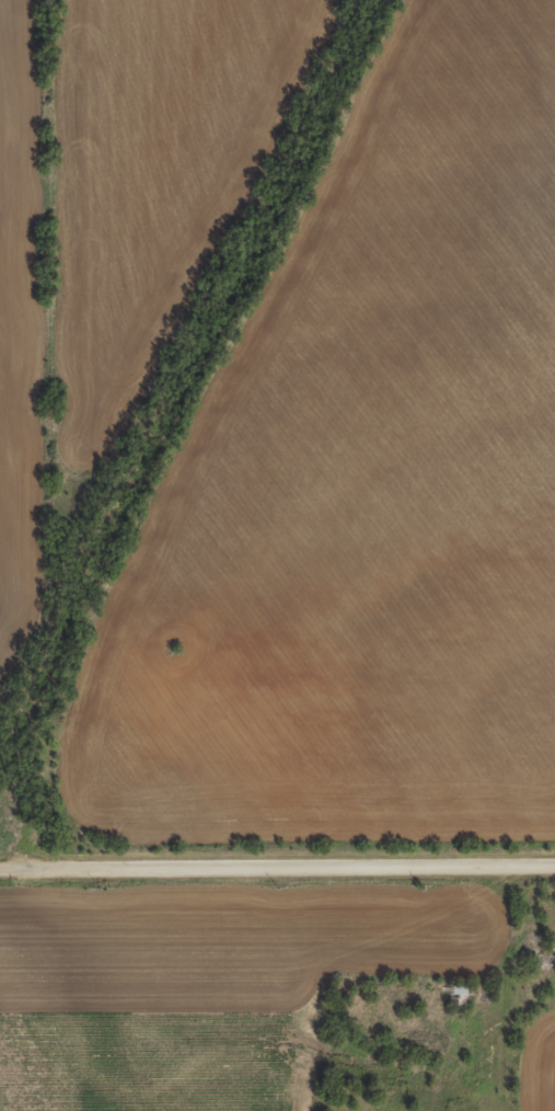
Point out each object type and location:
road: (277, 885)

